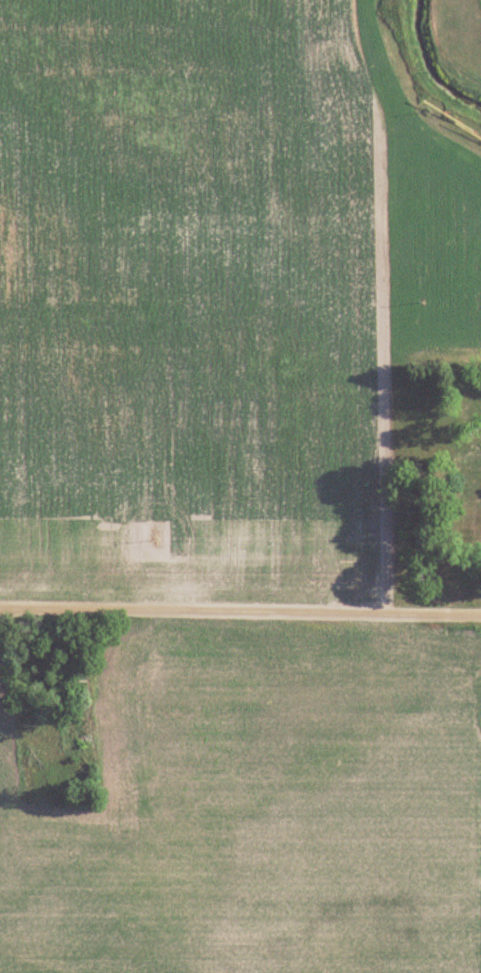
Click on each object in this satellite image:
building: (479, 408)
road: (240, 614)

